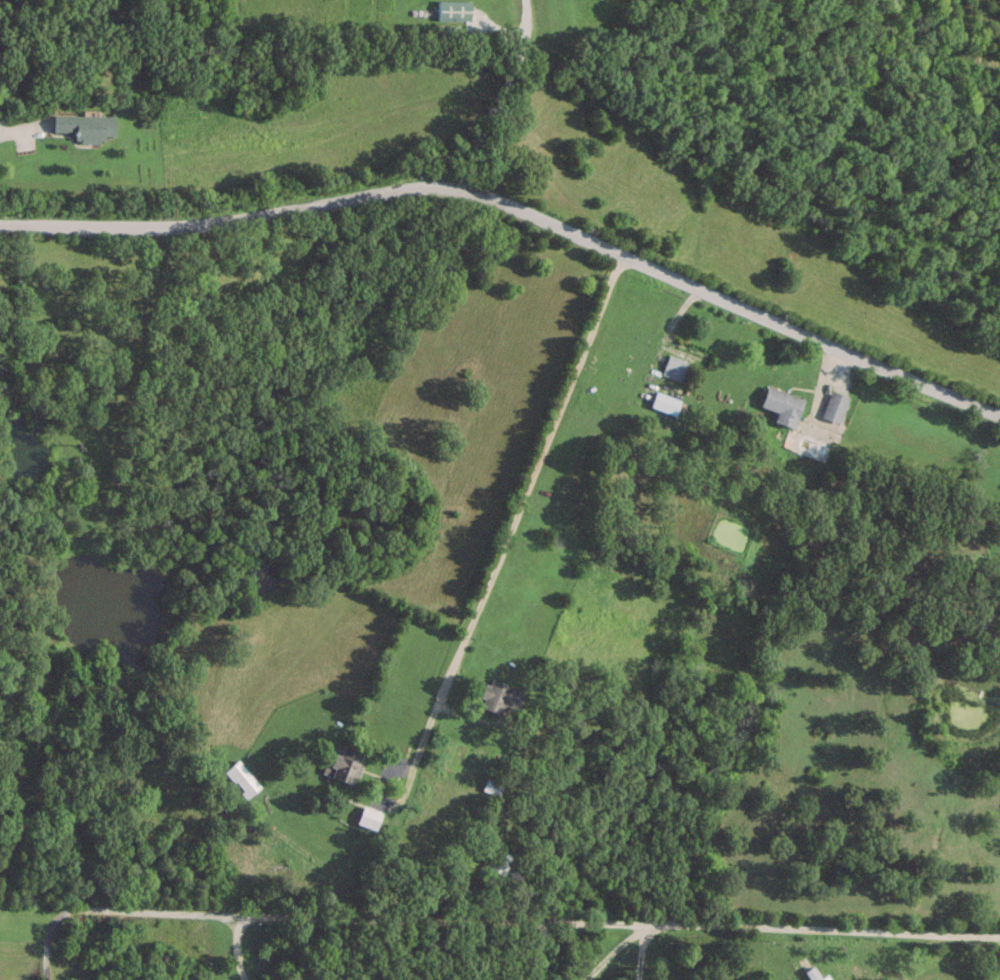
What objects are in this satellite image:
building: (451, 10)
road: (499, 94)
building: (81, 126)
road: (17, 131)
road: (517, 205)
building: (673, 367)
road: (824, 389)
building: (663, 403)
building: (780, 405)
building: (833, 406)
building: (998, 522)
road: (512, 523)
building: (497, 696)
building: (341, 765)
building: (240, 778)
building: (488, 789)
building: (366, 818)
building: (493, 866)
road: (540, 925)
road: (47, 934)
road: (238, 951)
road: (610, 952)
road: (639, 955)

